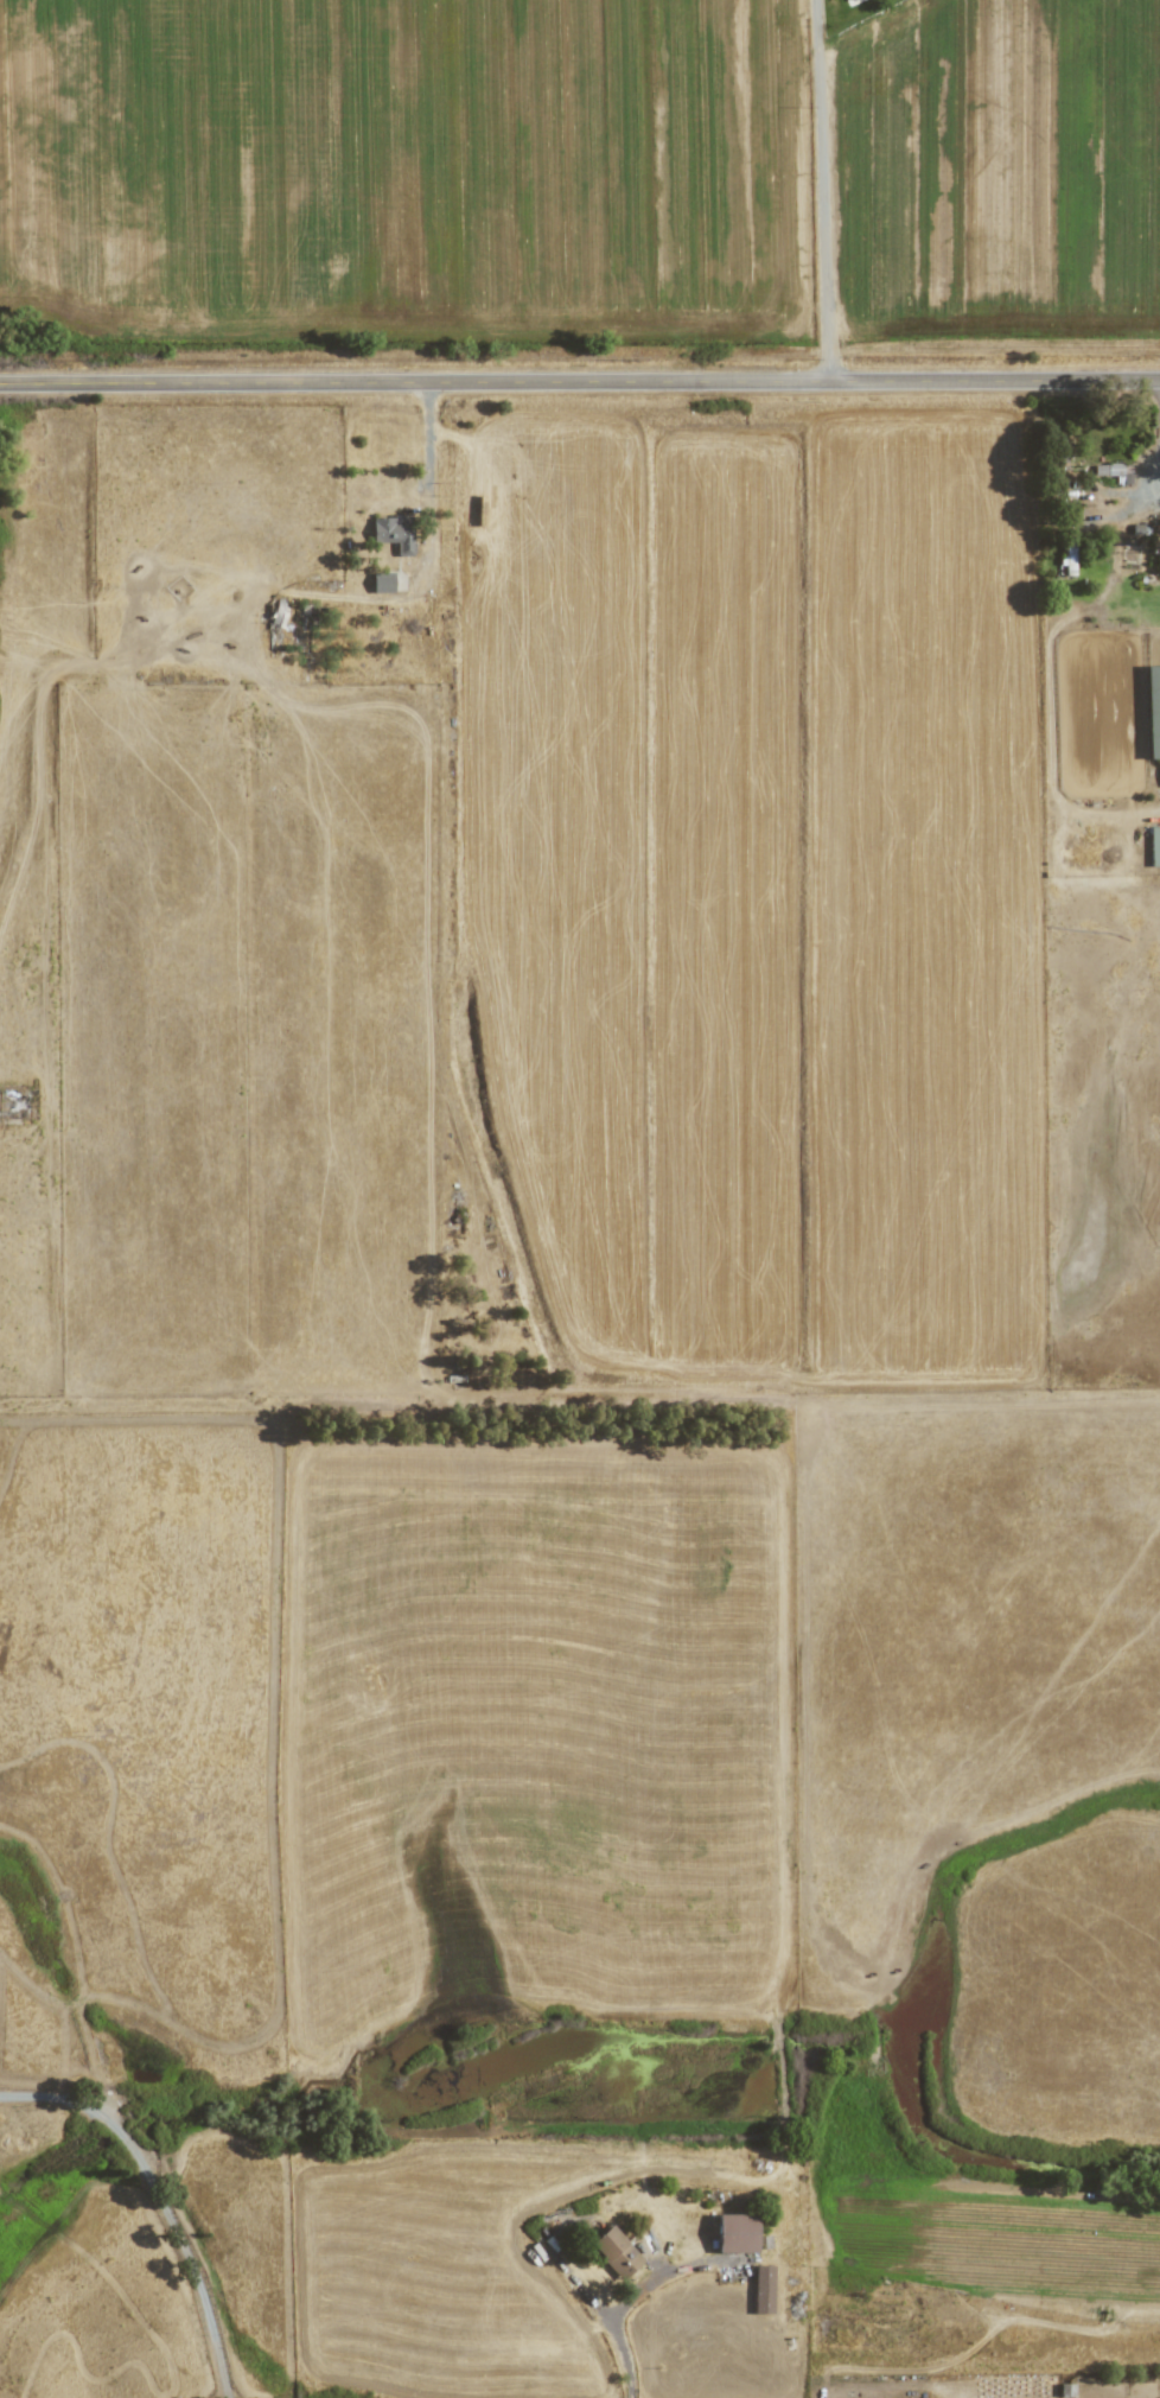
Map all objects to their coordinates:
building: (849, 0)
road: (826, 190)
road: (579, 380)
road: (426, 439)
building: (1113, 470)
building: (394, 533)
building: (1067, 558)
building: (382, 583)
building: (1153, 710)
building: (1154, 845)
road: (159, 2200)
building: (735, 2233)
building: (614, 2251)
building: (763, 2289)
road: (627, 2298)

